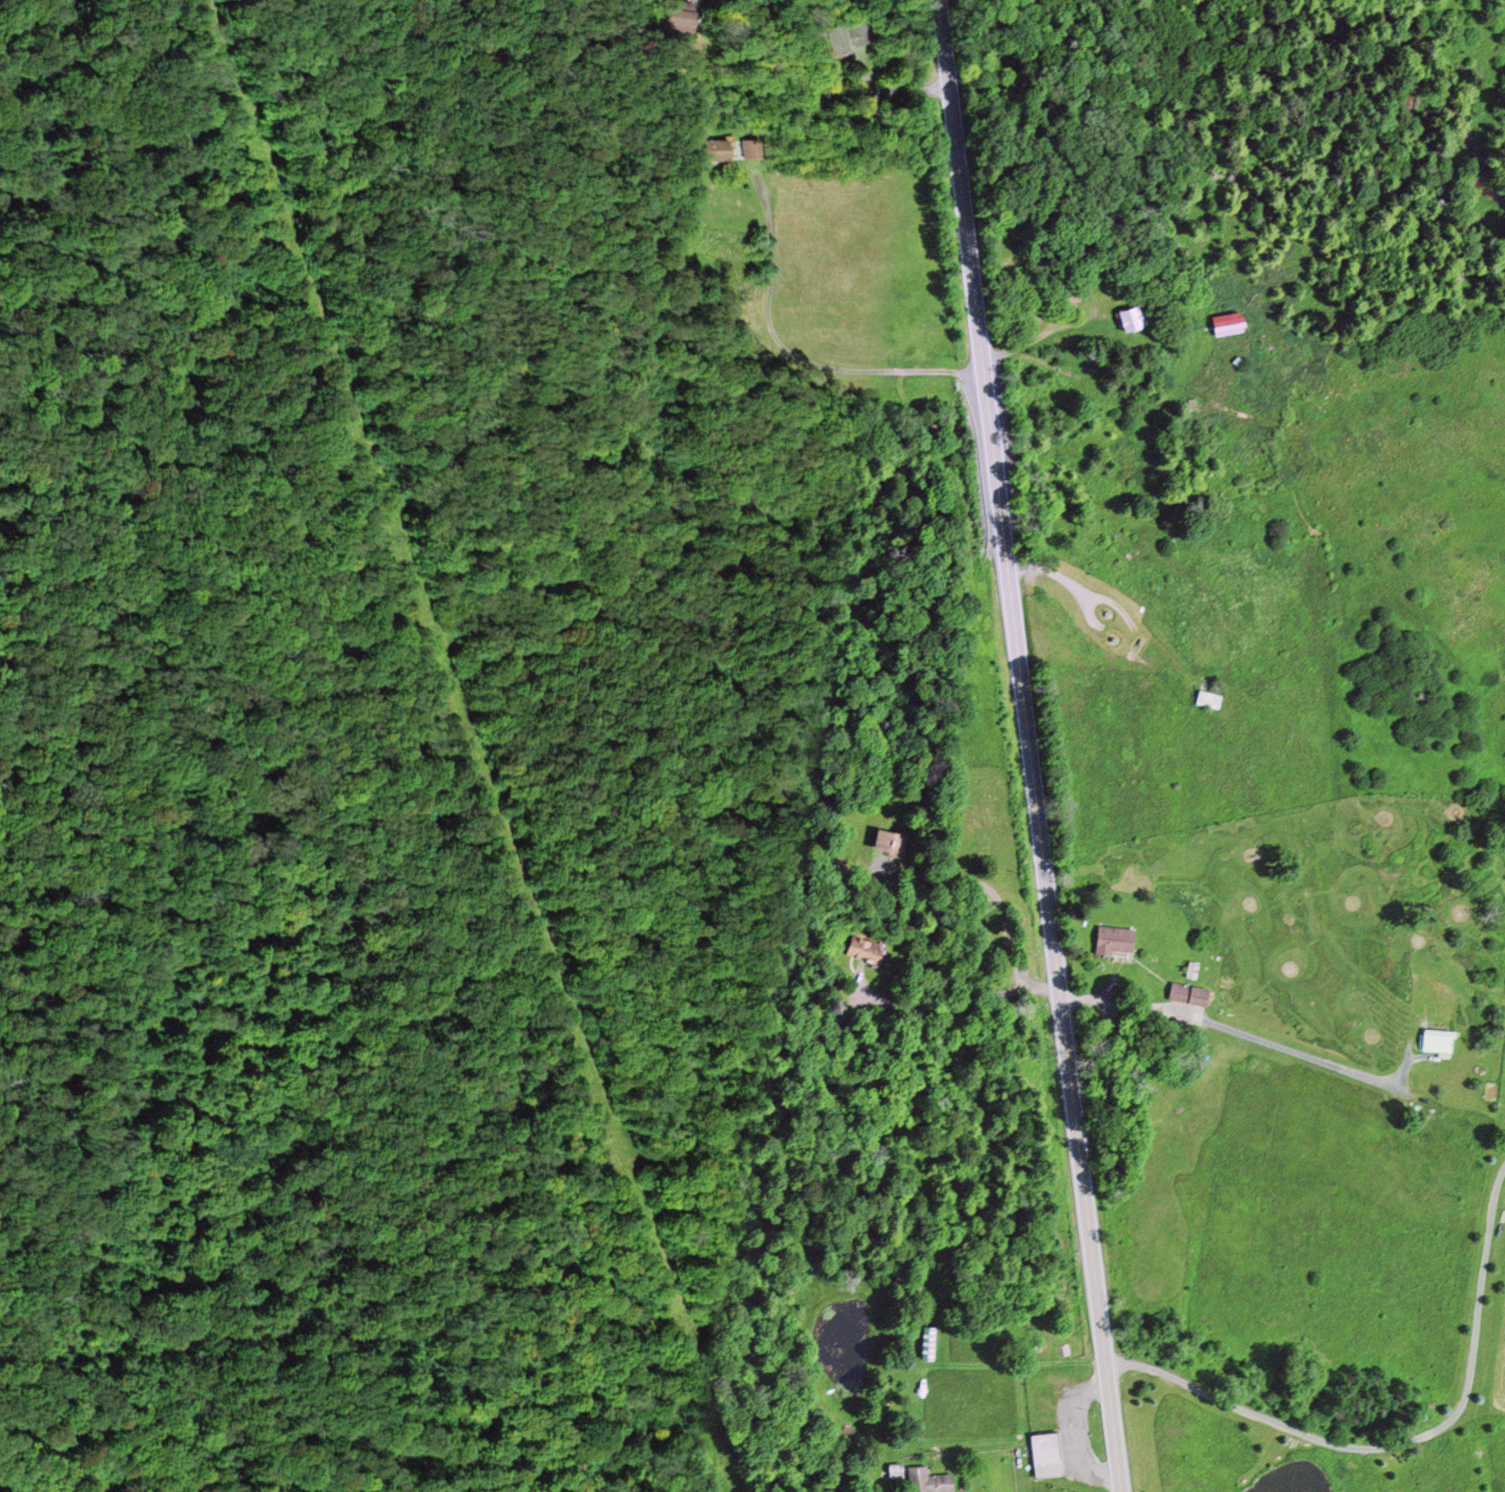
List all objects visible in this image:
building: (833, 37)
road: (822, 94)
building: (705, 149)
building: (1125, 318)
building: (1221, 325)
road: (855, 369)
road: (1112, 607)
building: (1204, 699)
road: (1029, 746)
building: (1110, 941)
road: (1012, 948)
building: (1186, 994)
road: (1263, 1041)
building: (1434, 1041)
building: (924, 1342)
road: (1070, 1435)
road: (1404, 1444)
building: (1043, 1454)
building: (928, 1480)

